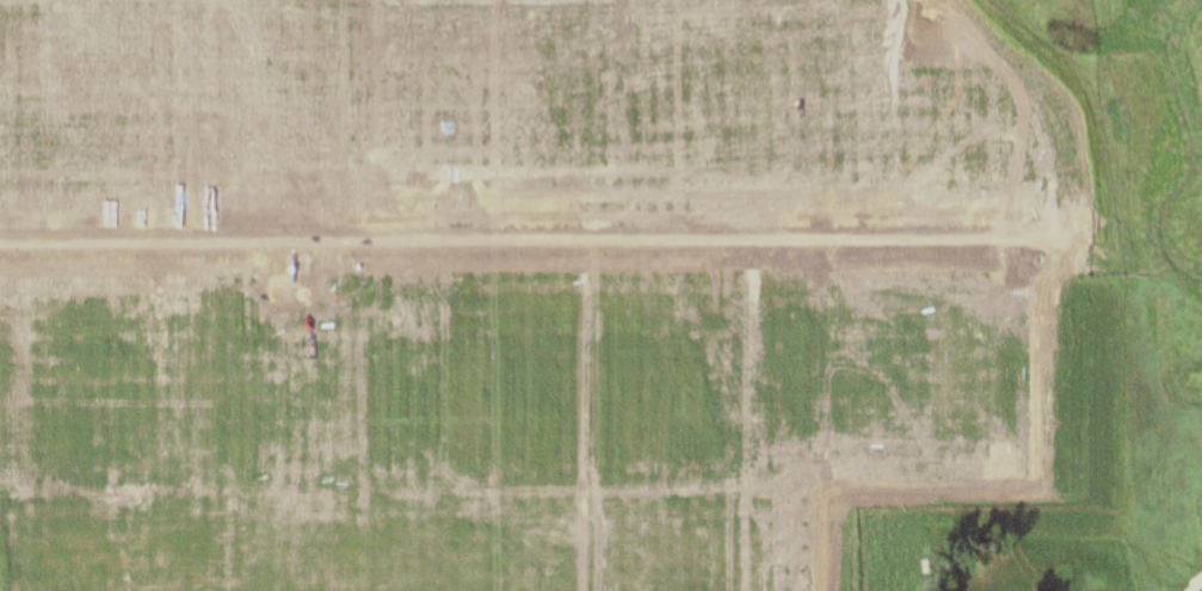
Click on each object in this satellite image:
road: (1201, 589)

